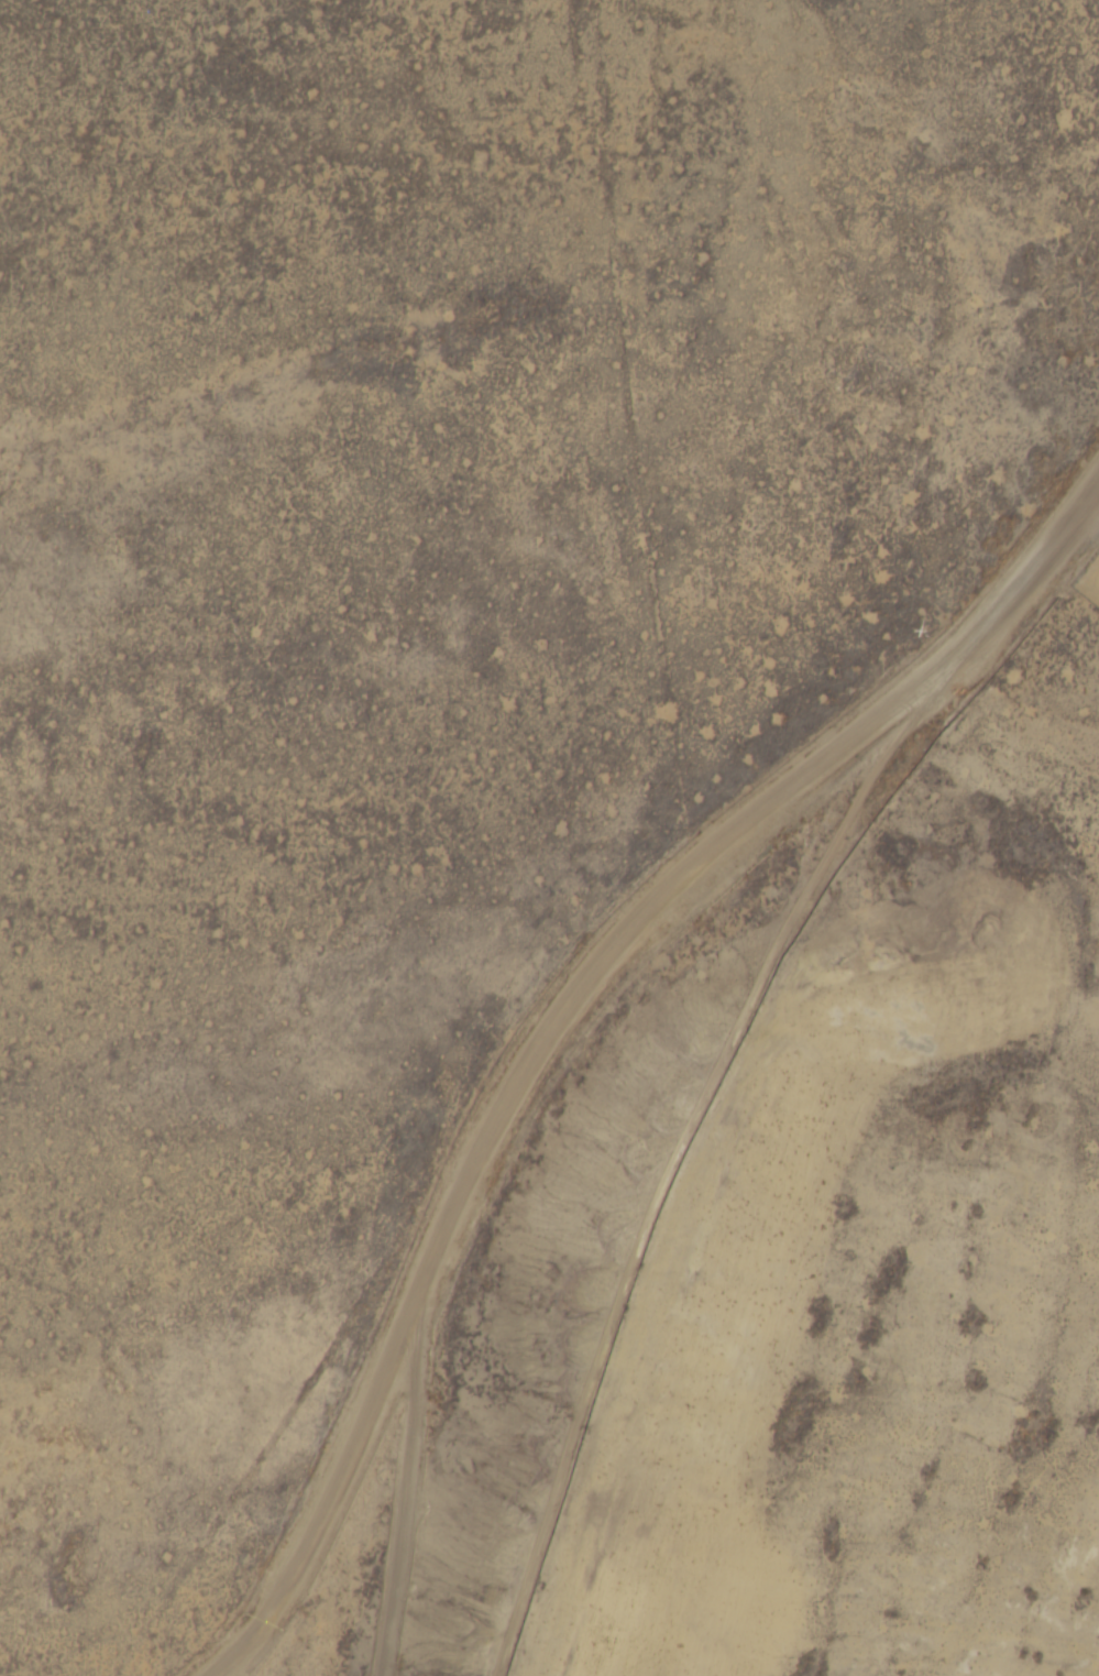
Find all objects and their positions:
quarry: (717, 1212)

